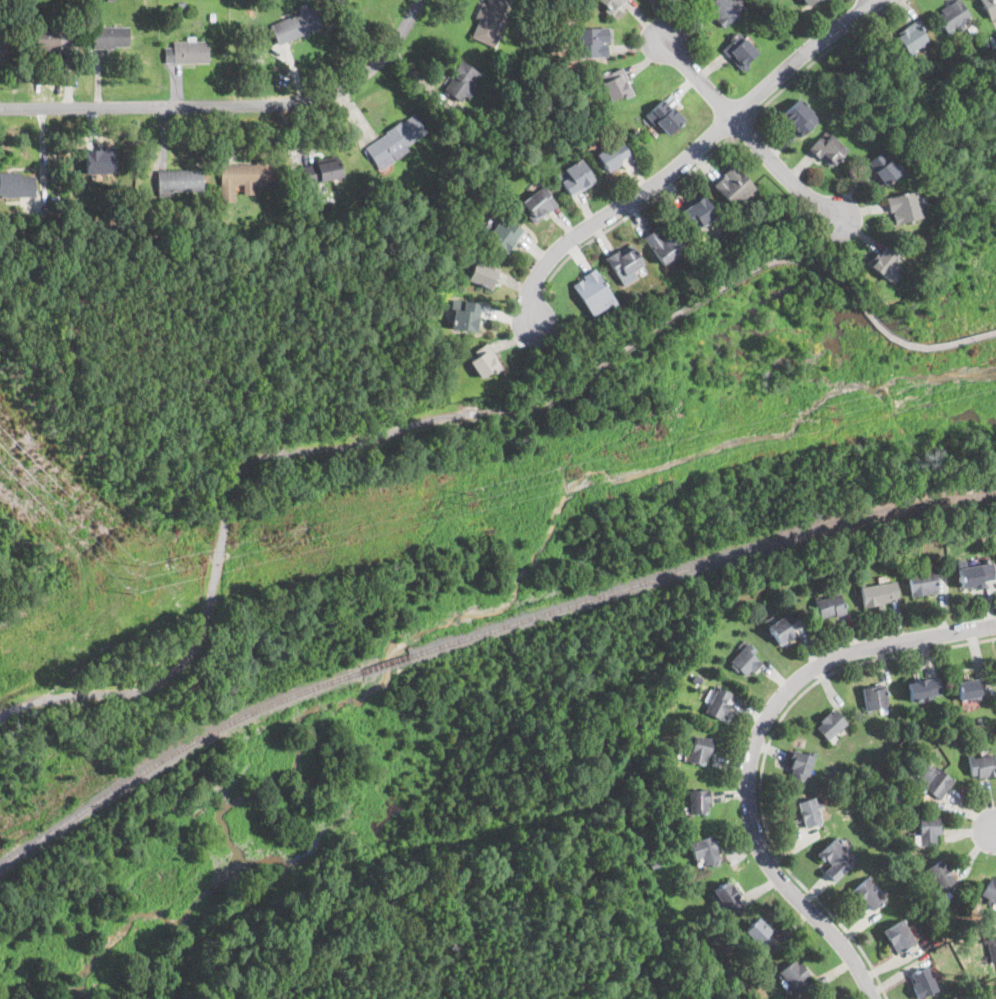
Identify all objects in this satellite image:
building: (342, 1)
road: (873, 1)
building: (808, 2)
road: (895, 2)
building: (609, 4)
building: (990, 7)
building: (724, 9)
building: (952, 14)
building: (489, 20)
building: (295, 25)
building: (111, 36)
building: (913, 37)
building: (52, 38)
building: (591, 42)
building: (0, 44)
building: (186, 51)
building: (740, 51)
road: (823, 54)
road: (696, 76)
building: (460, 80)
building: (614, 84)
road: (231, 104)
building: (664, 116)
building: (798, 118)
road: (741, 127)
building: (395, 140)
building: (829, 150)
building: (610, 155)
road: (687, 156)
building: (98, 160)
building: (882, 168)
building: (323, 169)
road: (784, 170)
building: (243, 176)
building: (575, 177)
building: (175, 181)
building: (17, 184)
building: (733, 186)
building: (538, 203)
building: (905, 206)
road: (639, 209)
building: (697, 213)
building: (502, 235)
building: (664, 245)
building: (625, 263)
building: (885, 263)
building: (478, 276)
road: (735, 279)
building: (593, 292)
building: (464, 316)
building: (483, 362)
power tower: (833, 411)
power tower: (468, 498)
road: (221, 546)
building: (974, 573)
power tower: (128, 574)
building: (922, 581)
building: (879, 593)
building: (830, 604)
building: (785, 626)
building: (744, 658)
building: (923, 687)
building: (968, 688)
building: (874, 695)
building: (717, 700)
building: (830, 724)
building: (700, 749)
road: (753, 749)
road: (764, 759)
building: (982, 764)
building: (800, 765)
building: (934, 781)
building: (698, 801)
building: (809, 812)
road: (992, 829)
building: (927, 831)
building: (705, 851)
building: (835, 857)
building: (941, 874)
building: (989, 890)
building: (868, 893)
building: (725, 894)
building: (755, 933)
building: (899, 936)
building: (992, 949)
building: (794, 976)
building: (923, 982)

